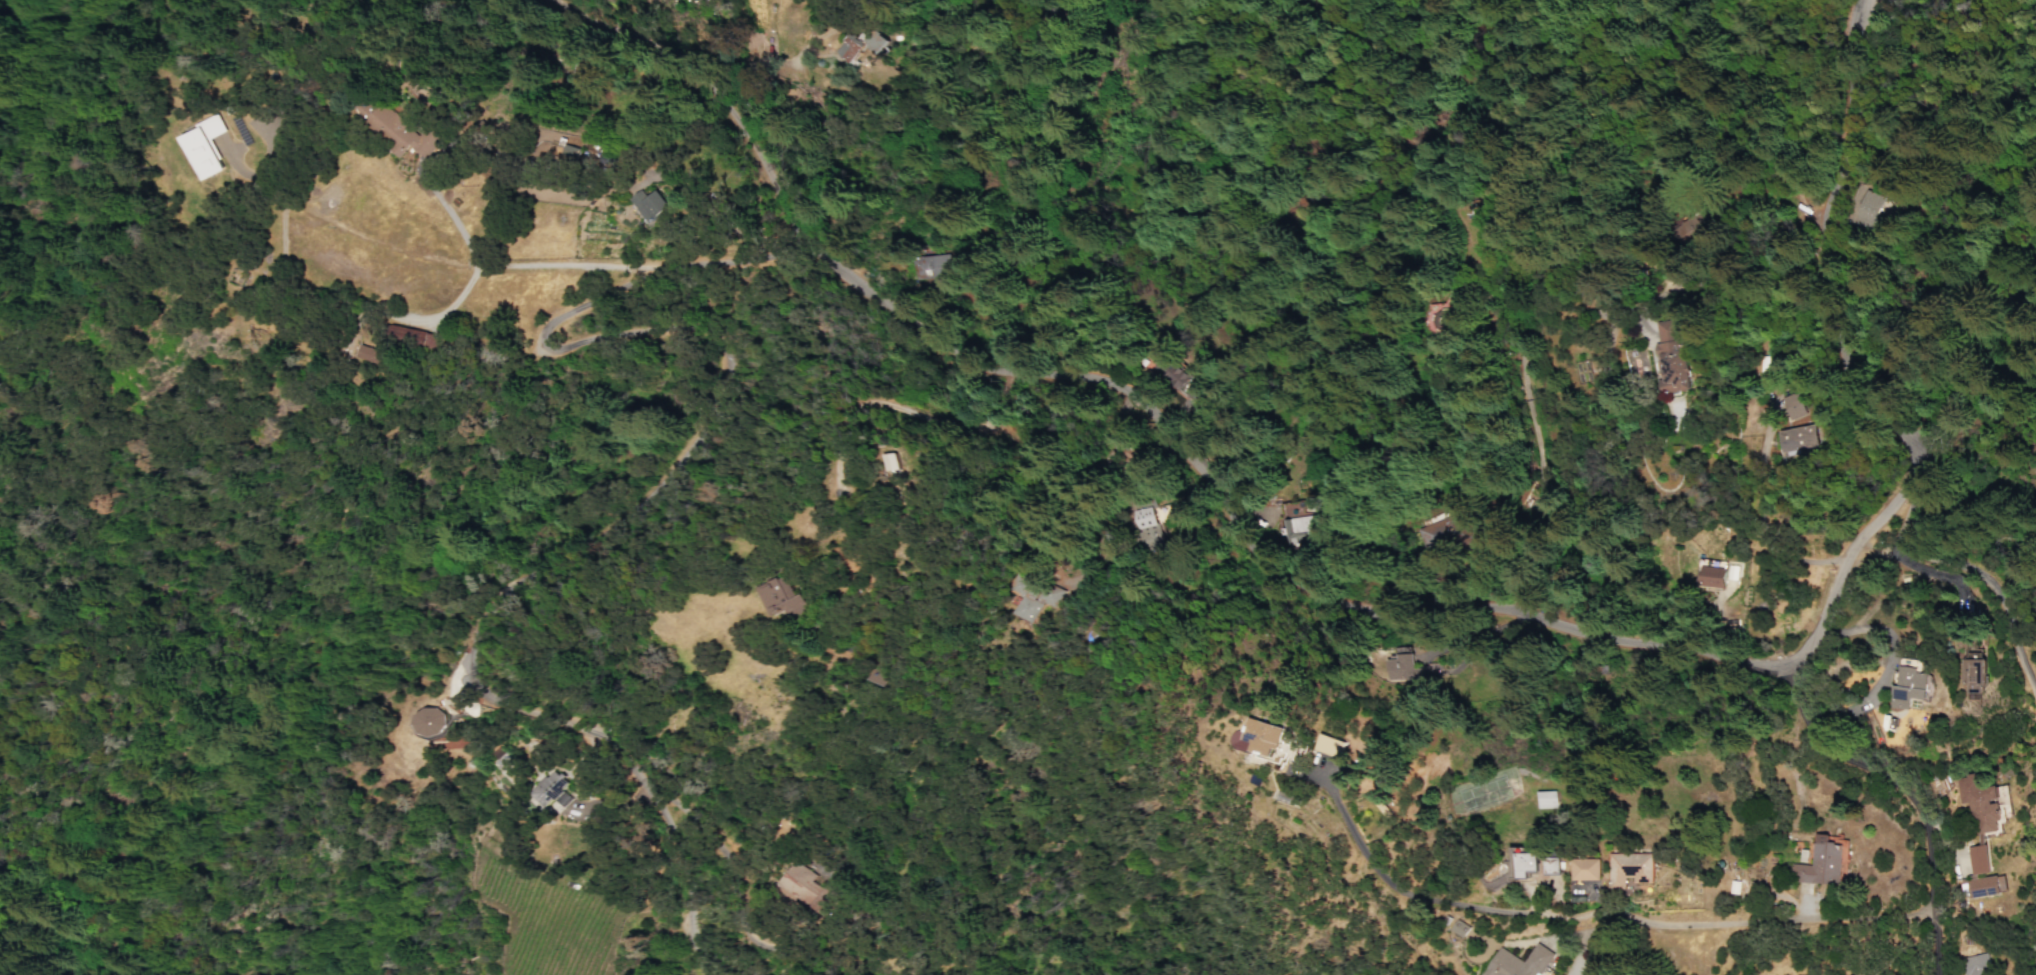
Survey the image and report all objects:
building: (859, 43)
building: (391, 129)
road: (457, 136)
building: (202, 146)
building: (566, 153)
building: (647, 204)
building: (1864, 207)
building: (412, 337)
building: (368, 353)
building: (1669, 358)
road: (1053, 370)
building: (1165, 372)
building: (1789, 405)
road: (1899, 431)
road: (1066, 432)
building: (1797, 438)
road: (948, 486)
road: (616, 502)
building: (1136, 518)
building: (1299, 529)
road: (789, 552)
building: (1710, 574)
road: (1973, 576)
building: (778, 598)
building: (1026, 601)
road: (1222, 602)
crop: (1147, 626)
building: (1395, 663)
building: (1972, 674)
building: (1907, 685)
building: (429, 722)
building: (1259, 735)
building: (1327, 744)
road: (1907, 788)
building: (550, 789)
park: (1476, 797)
building: (1545, 799)
building: (1979, 818)
building: (1818, 862)
building: (1521, 863)
building: (1544, 864)
building: (1625, 867)
building: (1580, 868)
building: (796, 882)
building: (1983, 886)
road: (1962, 903)
building: (1455, 926)
road: (1584, 927)
building: (1516, 962)
building: (1976, 964)

